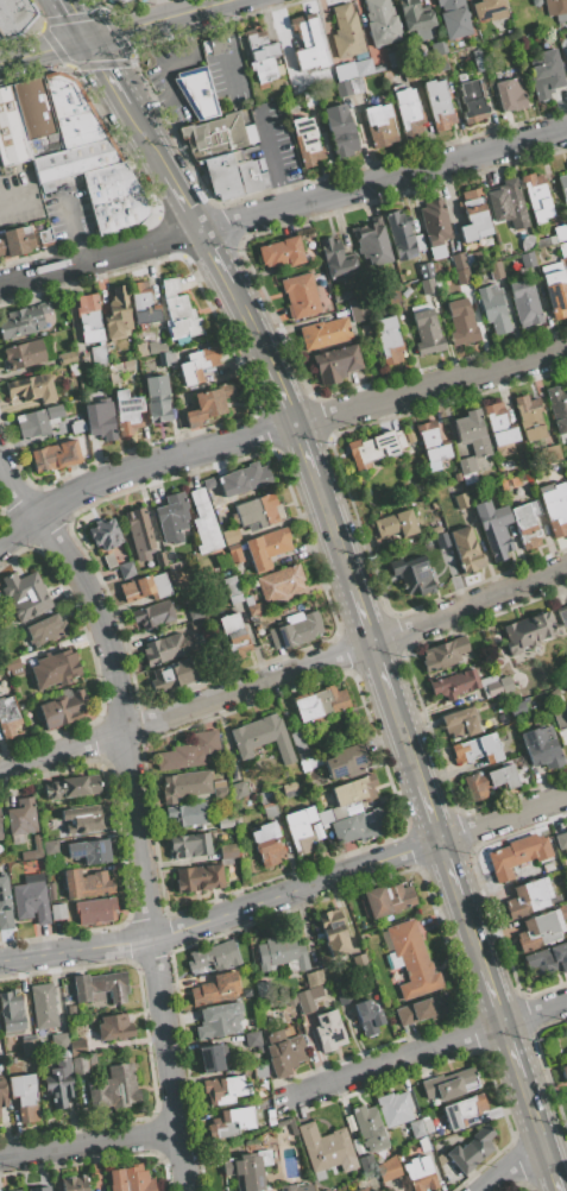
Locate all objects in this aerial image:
building: (137, 0)
building: (122, 1)
road: (165, 8)
building: (556, 8)
building: (490, 10)
building: (415, 14)
building: (14, 15)
building: (454, 18)
road: (75, 19)
road: (160, 19)
building: (382, 23)
building: (346, 32)
traffic signals: (88, 39)
building: (218, 43)
road: (232, 43)
building: (308, 43)
building: (437, 48)
road: (44, 51)
building: (566, 53)
building: (262, 56)
building: (397, 58)
building: (477, 61)
building: (439, 62)
building: (378, 68)
road: (164, 69)
building: (352, 69)
road: (106, 71)
building: (410, 73)
building: (544, 74)
building: (296, 86)
building: (349, 87)
building: (196, 92)
building: (510, 95)
building: (309, 97)
building: (472, 99)
building: (439, 105)
building: (408, 113)
building: (21, 119)
building: (379, 125)
road: (138, 127)
building: (340, 130)
building: (307, 141)
building: (219, 150)
road: (270, 158)
building: (89, 159)
building: (566, 163)
building: (259, 165)
building: (237, 168)
building: (252, 177)
building: (563, 187)
road: (175, 190)
building: (537, 197)
building: (508, 203)
road: (283, 208)
building: (473, 215)
building: (434, 222)
building: (560, 233)
building: (44, 235)
building: (402, 235)
building: (544, 240)
building: (15, 241)
building: (372, 241)
building: (562, 250)
building: (282, 252)
road: (213, 257)
building: (335, 259)
building: (465, 259)
building: (527, 260)
building: (424, 270)
building: (494, 270)
building: (462, 276)
building: (439, 283)
building: (427, 285)
building: (555, 289)
building: (300, 295)
building: (392, 295)
building: (341, 296)
building: (524, 303)
building: (143, 304)
building: (493, 308)
building: (358, 309)
building: (178, 311)
building: (118, 313)
building: (88, 319)
building: (23, 321)
building: (461, 322)
road: (248, 326)
building: (426, 330)
building: (325, 333)
building: (388, 340)
building: (156, 347)
building: (25, 354)
building: (99, 357)
building: (67, 358)
building: (172, 358)
building: (163, 359)
building: (335, 363)
building: (197, 365)
building: (73, 368)
building: (119, 370)
building: (33, 387)
road: (431, 387)
road: (283, 396)
building: (156, 398)
building: (208, 404)
building: (557, 408)
building: (127, 411)
building: (529, 417)
building: (100, 420)
building: (38, 421)
building: (76, 423)
building: (499, 424)
building: (472, 433)
building: (431, 445)
building: (376, 448)
road: (305, 450)
building: (549, 453)
building: (56, 455)
building: (467, 465)
road: (140, 466)
building: (244, 479)
building: (209, 484)
building: (461, 500)
building: (554, 508)
building: (257, 512)
building: (220, 513)
building: (172, 517)
road: (330, 521)
building: (204, 523)
building: (396, 524)
building: (525, 524)
building: (493, 528)
building: (105, 534)
building: (140, 534)
building: (231, 536)
building: (441, 541)
building: (266, 548)
building: (466, 549)
building: (234, 554)
building: (159, 559)
building: (109, 561)
building: (176, 566)
building: (126, 571)
building: (412, 574)
building: (281, 582)
building: (145, 587)
building: (232, 590)
building: (25, 595)
road: (358, 601)
building: (253, 606)
building: (195, 612)
building: (153, 613)
building: (562, 617)
building: (45, 630)
building: (295, 630)
building: (528, 631)
building: (233, 636)
building: (164, 649)
building: (443, 654)
building: (13, 667)
building: (55, 669)
road: (382, 670)
road: (284, 673)
building: (172, 675)
building: (455, 683)
building: (491, 689)
building: (320, 704)
building: (63, 708)
building: (516, 708)
building: (8, 716)
building: (503, 719)
building: (560, 719)
building: (460, 723)
building: (262, 737)
road: (405, 743)
building: (300, 745)
building: (541, 746)
building: (477, 749)
building: (189, 751)
building: (346, 762)
building: (303, 765)
building: (489, 781)
building: (184, 784)
building: (69, 788)
building: (219, 788)
building: (238, 790)
building: (347, 796)
building: (267, 804)
road: (131, 812)
road: (429, 812)
building: (187, 814)
building: (21, 817)
building: (83, 819)
building: (223, 823)
building: (360, 826)
building: (300, 830)
building: (0, 833)
building: (561, 839)
building: (266, 844)
building: (190, 845)
building: (50, 847)
building: (33, 850)
building: (228, 851)
building: (89, 852)
building: (516, 855)
building: (225, 861)
road: (359, 867)
building: (548, 867)
building: (199, 878)
building: (556, 878)
road: (452, 880)
building: (86, 883)
building: (50, 890)
building: (528, 897)
building: (31, 899)
building: (388, 899)
building: (5, 905)
building: (95, 909)
building: (58, 912)
building: (541, 930)
building: (317, 934)
building: (333, 934)
road: (474, 944)
road: (75, 950)
building: (281, 954)
building: (215, 956)
building: (409, 958)
building: (547, 959)
building: (360, 962)
building: (314, 977)
building: (100, 987)
building: (215, 989)
building: (248, 992)
building: (341, 992)
road: (492, 995)
building: (289, 1000)
building: (307, 1000)
building: (44, 1006)
building: (11, 1010)
building: (421, 1010)
building: (368, 1017)
building: (218, 1021)
building: (250, 1022)
building: (114, 1027)
building: (328, 1032)
building: (251, 1036)
building: (59, 1041)
building: (29, 1045)
building: (77, 1046)
road: (430, 1046)
road: (512, 1051)
building: (283, 1052)
building: (210, 1057)
building: (84, 1064)
building: (259, 1071)
building: (563, 1072)
building: (59, 1083)
building: (449, 1084)
building: (114, 1089)
building: (225, 1089)
building: (2, 1094)
building: (24, 1096)
building: (258, 1104)
building: (393, 1109)
road: (531, 1109)
building: (462, 1110)
building: (269, 1116)
building: (349, 1121)
building: (229, 1123)
building: (427, 1126)
building: (370, 1127)
building: (416, 1128)
building: (265, 1139)
road: (87, 1143)
building: (358, 1146)
building: (421, 1146)
building: (471, 1149)
building: (326, 1152)
building: (440, 1159)
building: (431, 1160)
building: (365, 1162)
road: (511, 1165)
road: (549, 1165)
building: (389, 1168)
building: (246, 1170)
building: (418, 1174)
building: (131, 1179)
building: (74, 1184)
building: (296, 1187)
building: (39, 1189)
building: (12, 1190)
building: (325, 1190)
building: (360, 1190)
building: (377, 1190)

